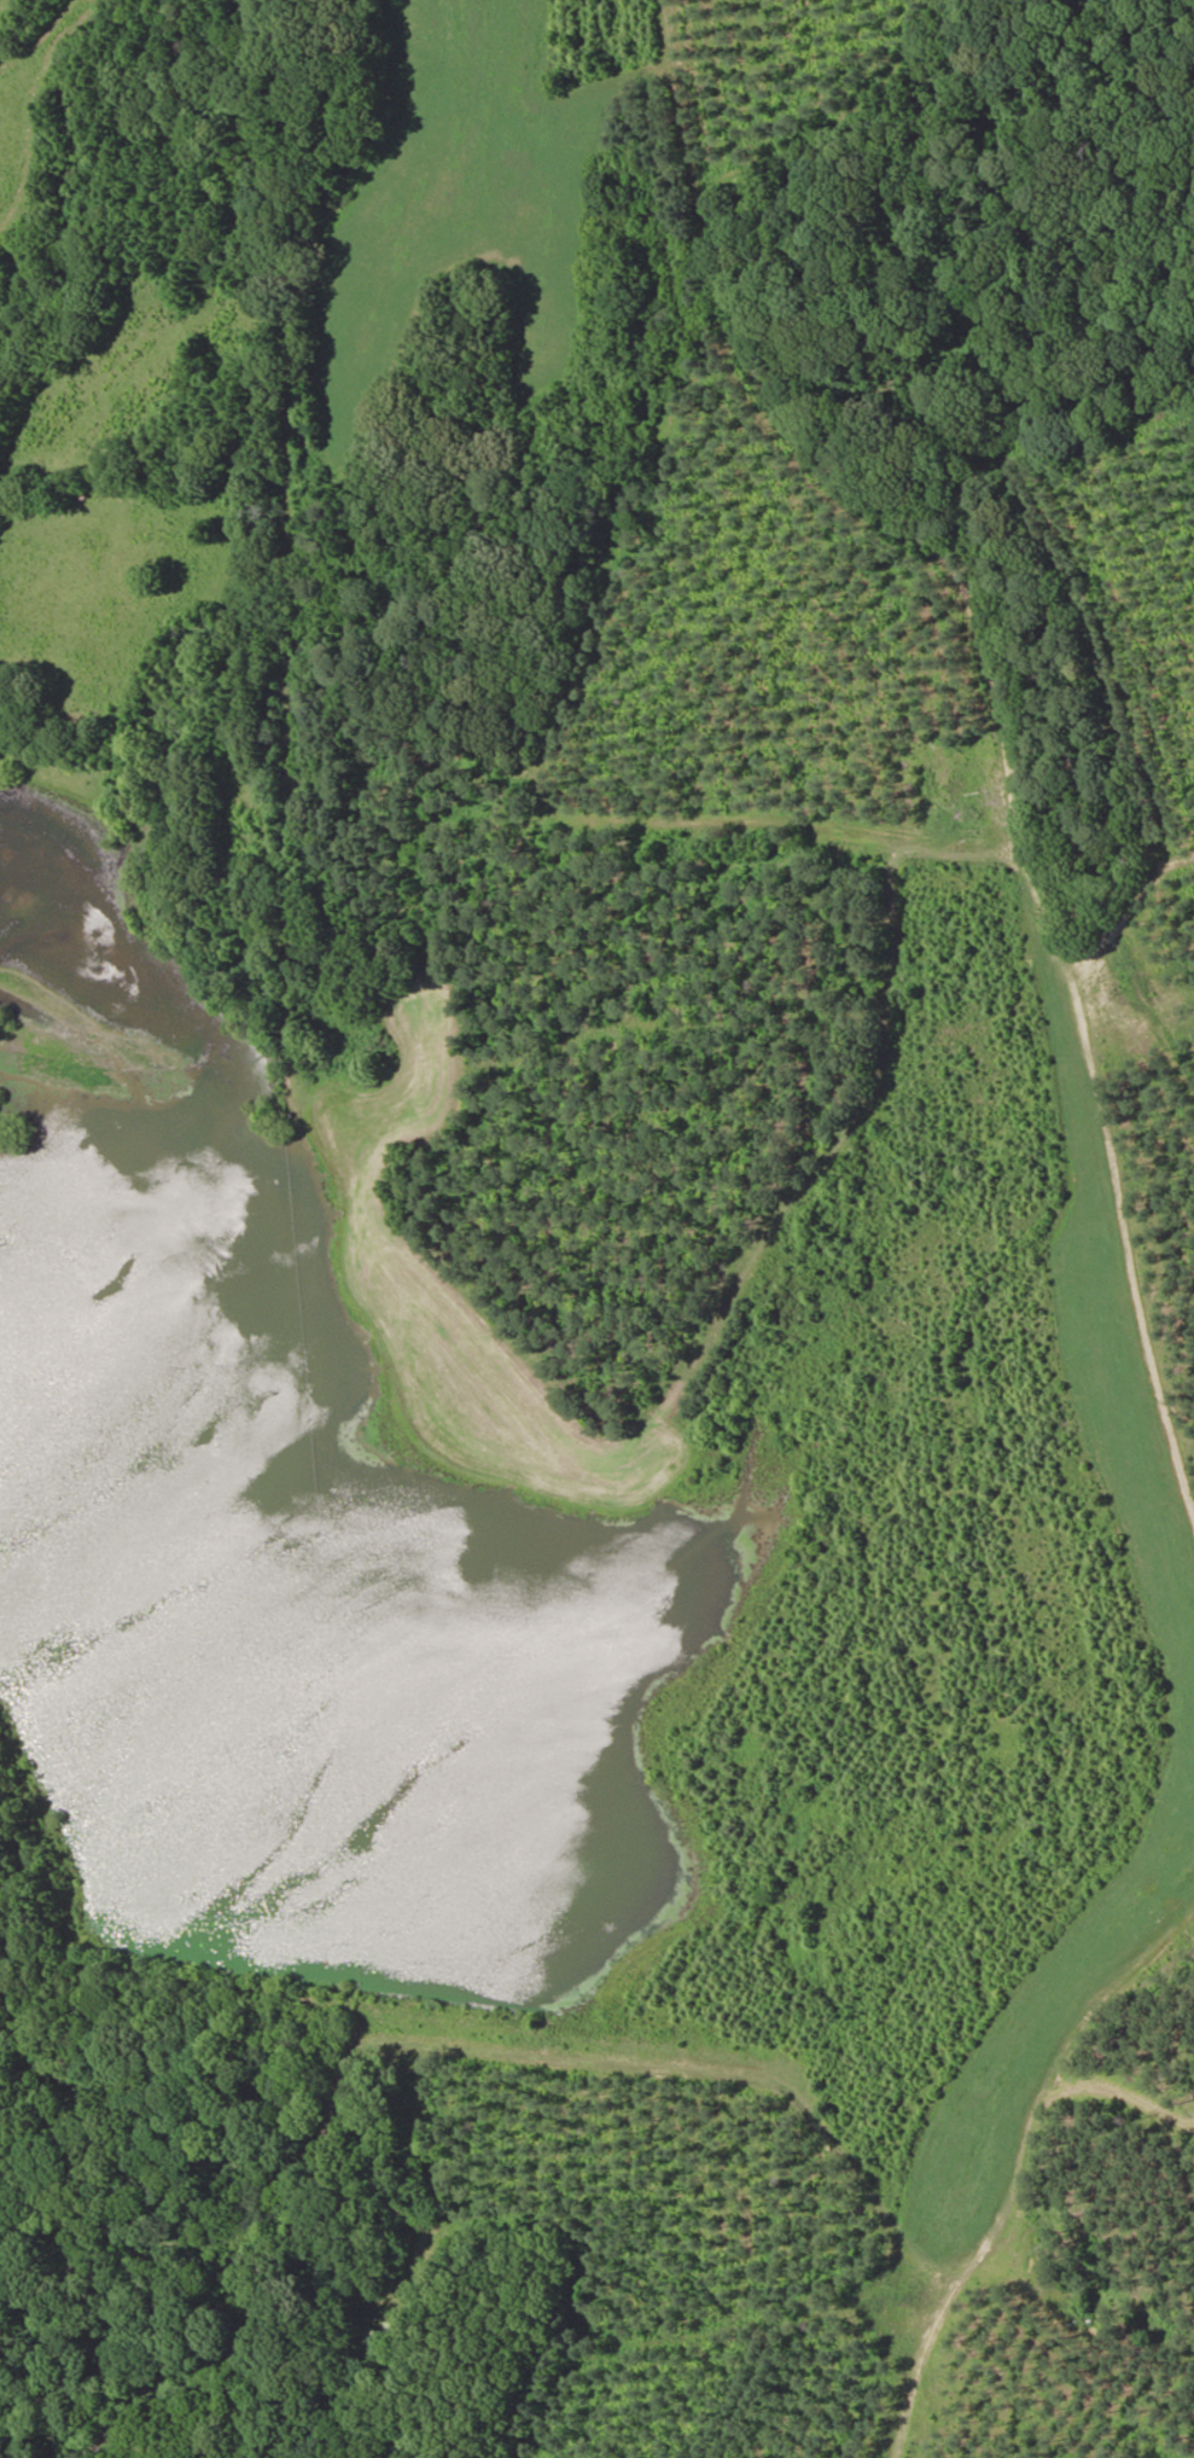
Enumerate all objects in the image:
road: (741, 92)

